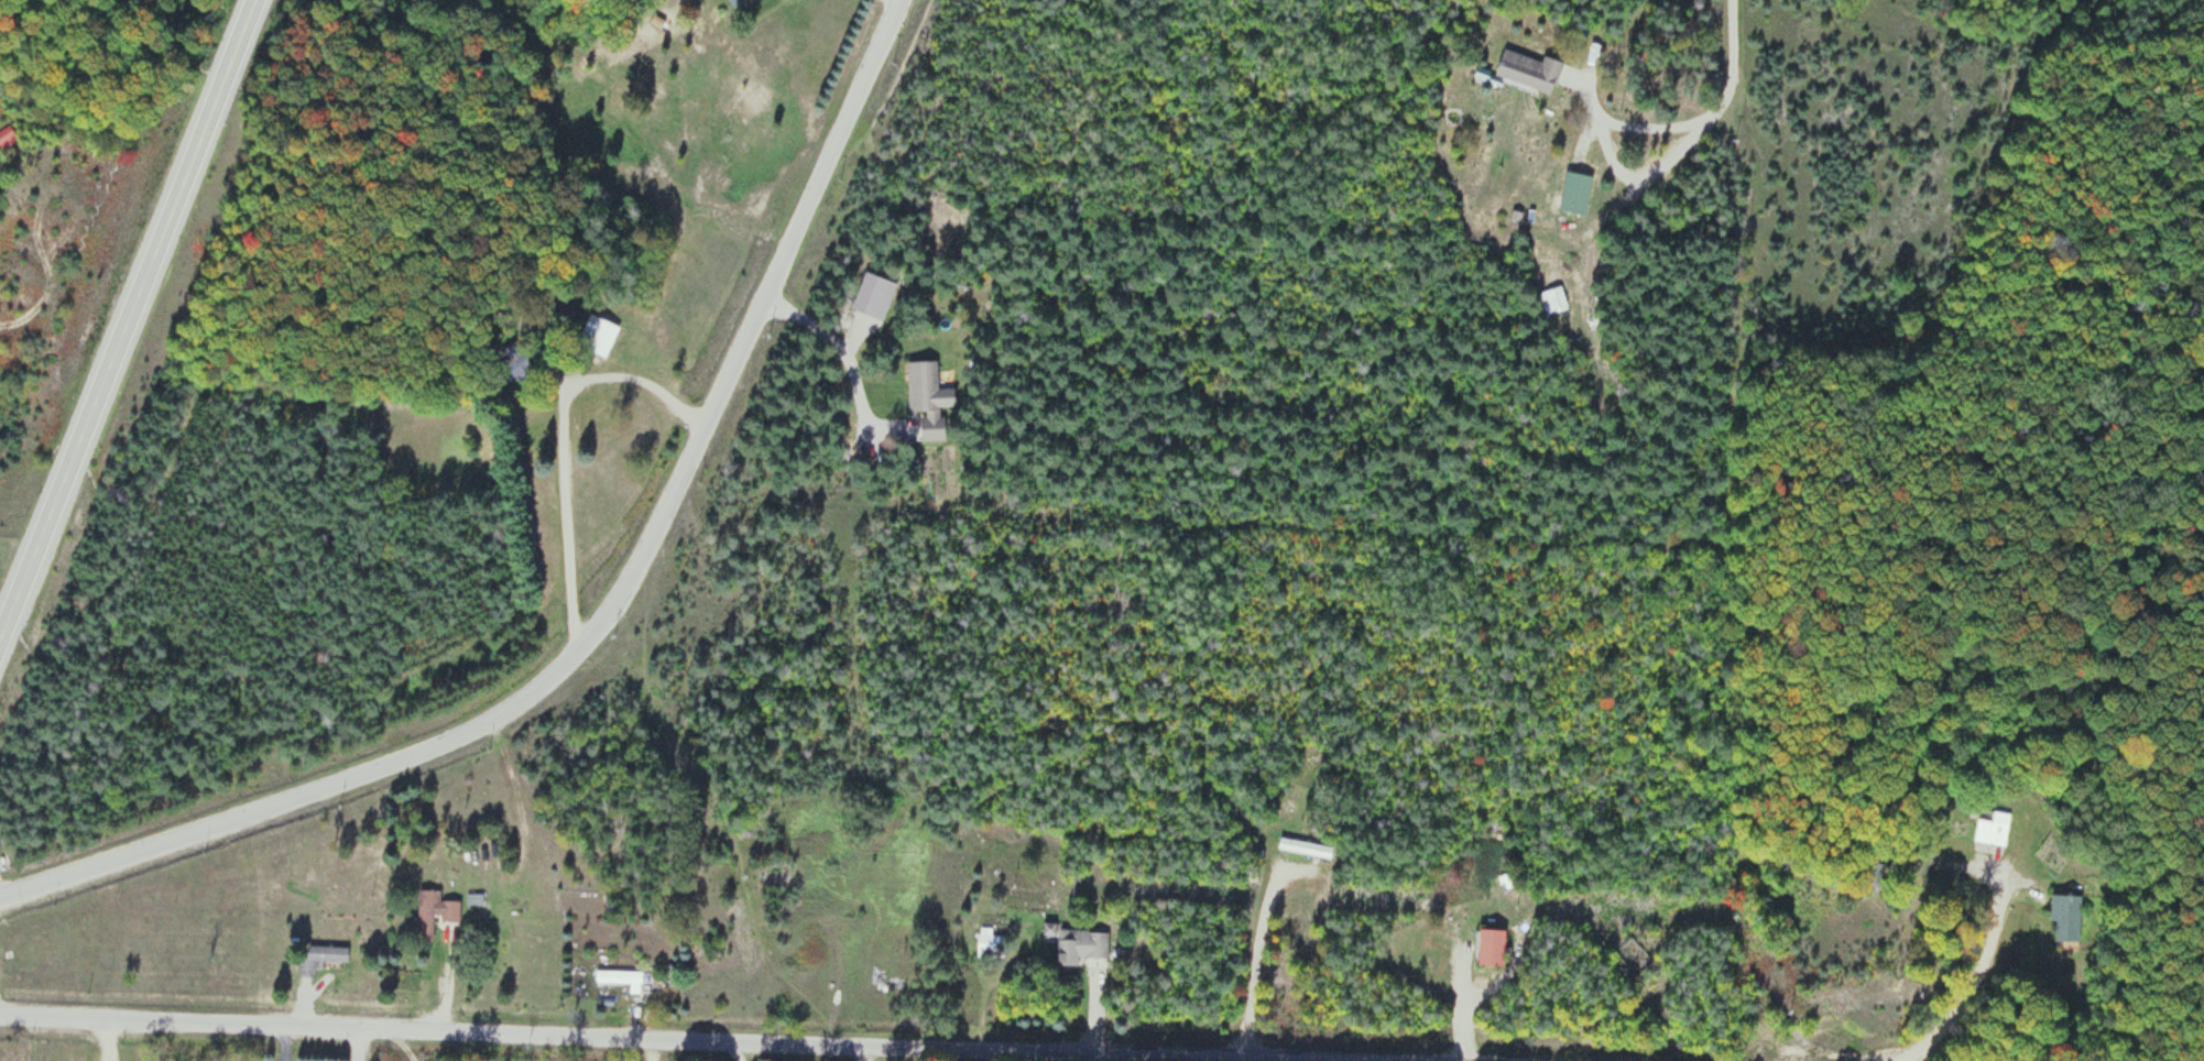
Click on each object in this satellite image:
building: (732, 1)
building: (1528, 70)
building: (1574, 194)
road: (129, 321)
building: (597, 336)
building: (503, 374)
building: (925, 396)
road: (607, 614)
building: (1993, 829)
building: (1305, 849)
road: (508, 880)
building: (1505, 882)
building: (433, 914)
building: (2065, 918)
building: (989, 944)
building: (1080, 945)
building: (1490, 947)
building: (320, 958)
building: (1633, 958)
building: (623, 981)
road: (718, 1039)

